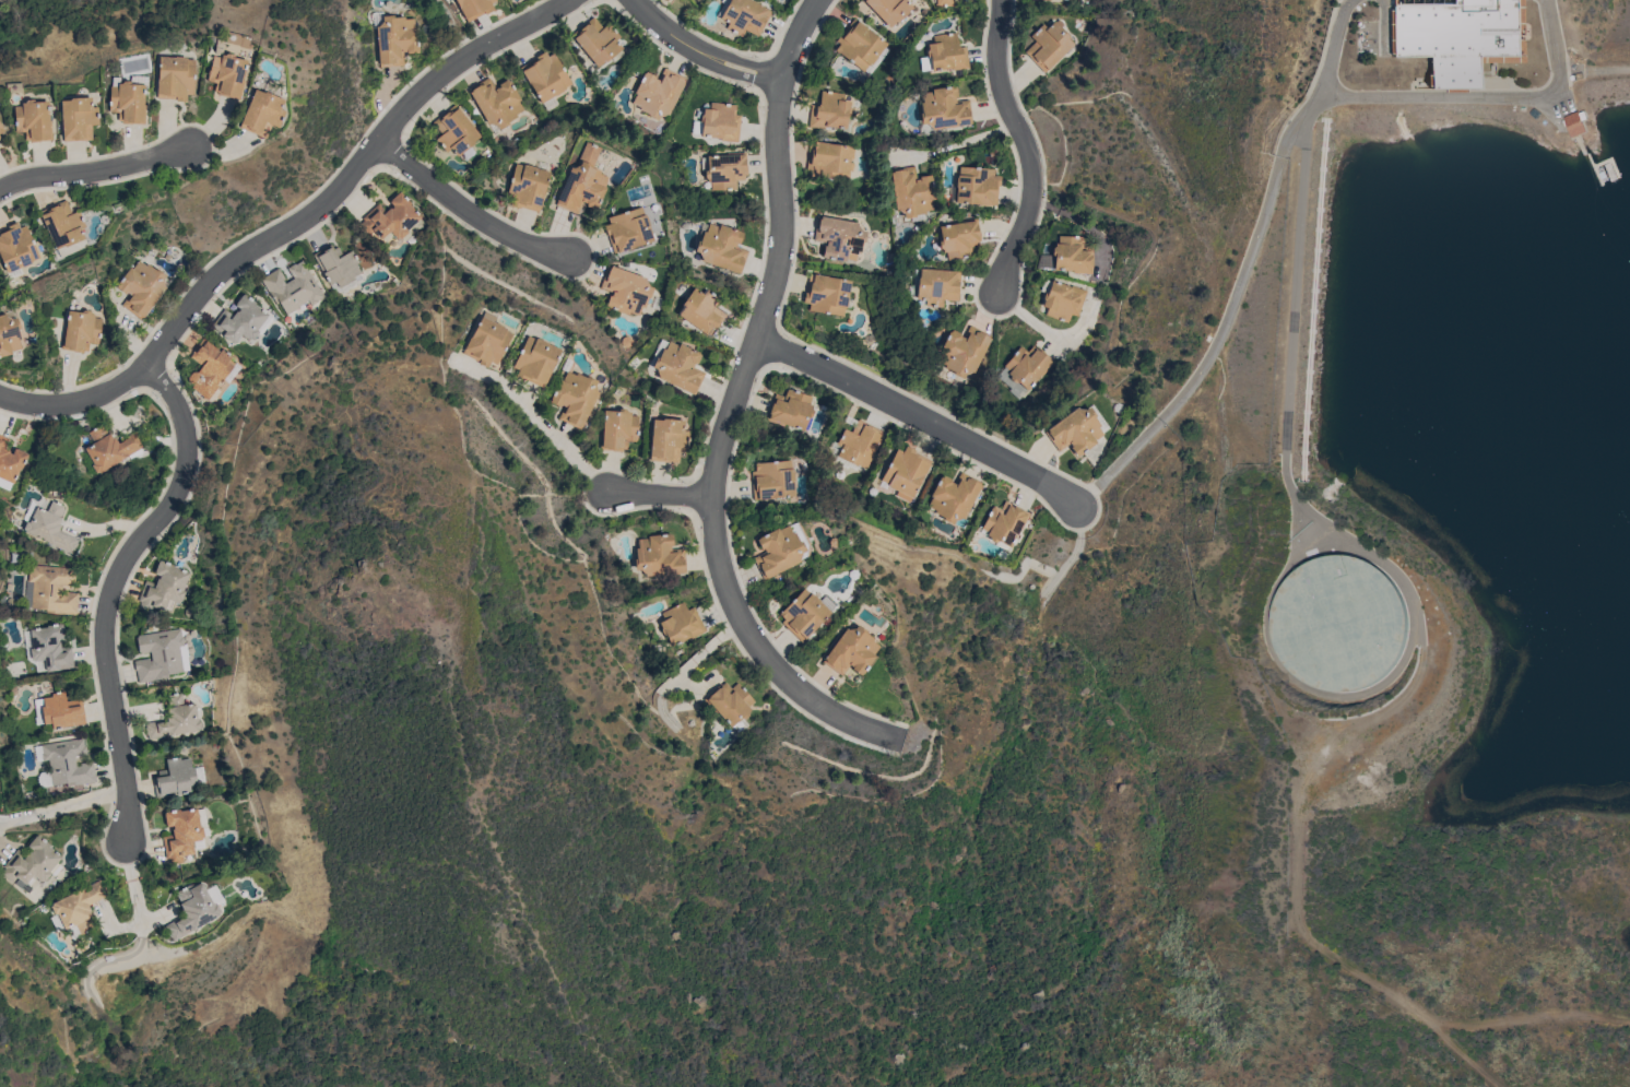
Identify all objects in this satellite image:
building: (1044, 0)
building: (944, 2)
building: (474, 8)
building: (888, 9)
building: (744, 15)
building: (1457, 36)
road: (1552, 36)
building: (395, 39)
building: (597, 40)
building: (859, 45)
building: (1048, 45)
road: (1334, 46)
road: (700, 52)
building: (946, 52)
dam: (1611, 64)
road: (1606, 70)
road: (1571, 71)
building: (227, 74)
building: (545, 75)
building: (175, 78)
building: (658, 93)
building: (128, 102)
building: (496, 102)
building: (944, 108)
building: (829, 110)
building: (262, 113)
building: (78, 118)
building: (33, 120)
building: (720, 121)
building: (1575, 123)
building: (1, 128)
building: (454, 130)
building: (0, 137)
road: (958, 143)
road: (1027, 150)
building: (828, 161)
building: (725, 169)
road: (95, 177)
building: (582, 182)
building: (528, 186)
building: (976, 186)
building: (911, 191)
road: (1265, 199)
building: (390, 217)
road: (470, 217)
road: (1082, 220)
building: (62, 224)
building: (627, 229)
road: (296, 231)
building: (959, 237)
building: (839, 238)
building: (16, 247)
building: (722, 248)
building: (1072, 255)
building: (336, 264)
building: (936, 286)
building: (141, 287)
building: (293, 287)
building: (625, 290)
building: (826, 294)
building: (1062, 300)
building: (701, 310)
building: (240, 320)
building: (80, 331)
building: (9, 334)
building: (487, 341)
building: (964, 351)
building: (536, 361)
building: (209, 367)
building: (680, 367)
building: (1025, 369)
building: (575, 398)
road: (733, 409)
building: (790, 409)
road: (925, 422)
road: (544, 425)
building: (617, 429)
building: (1077, 429)
building: (668, 440)
building: (858, 445)
building: (111, 448)
building: (10, 460)
building: (905, 472)
building: (772, 480)
road: (659, 497)
building: (954, 497)
building: (1004, 522)
building: (48, 525)
building: (778, 551)
building: (658, 555)
building: (164, 588)
building: (52, 589)
road: (115, 593)
building: (803, 614)
building: (681, 623)
building: (1335, 624)
storage tank: (1335, 624)
building: (50, 648)
building: (851, 650)
building: (160, 654)
building: (730, 704)
building: (61, 711)
building: (175, 718)
building: (64, 763)
building: (175, 777)
road: (64, 807)
building: (185, 832)
building: (34, 863)
road: (134, 884)
building: (79, 908)
building: (192, 910)

